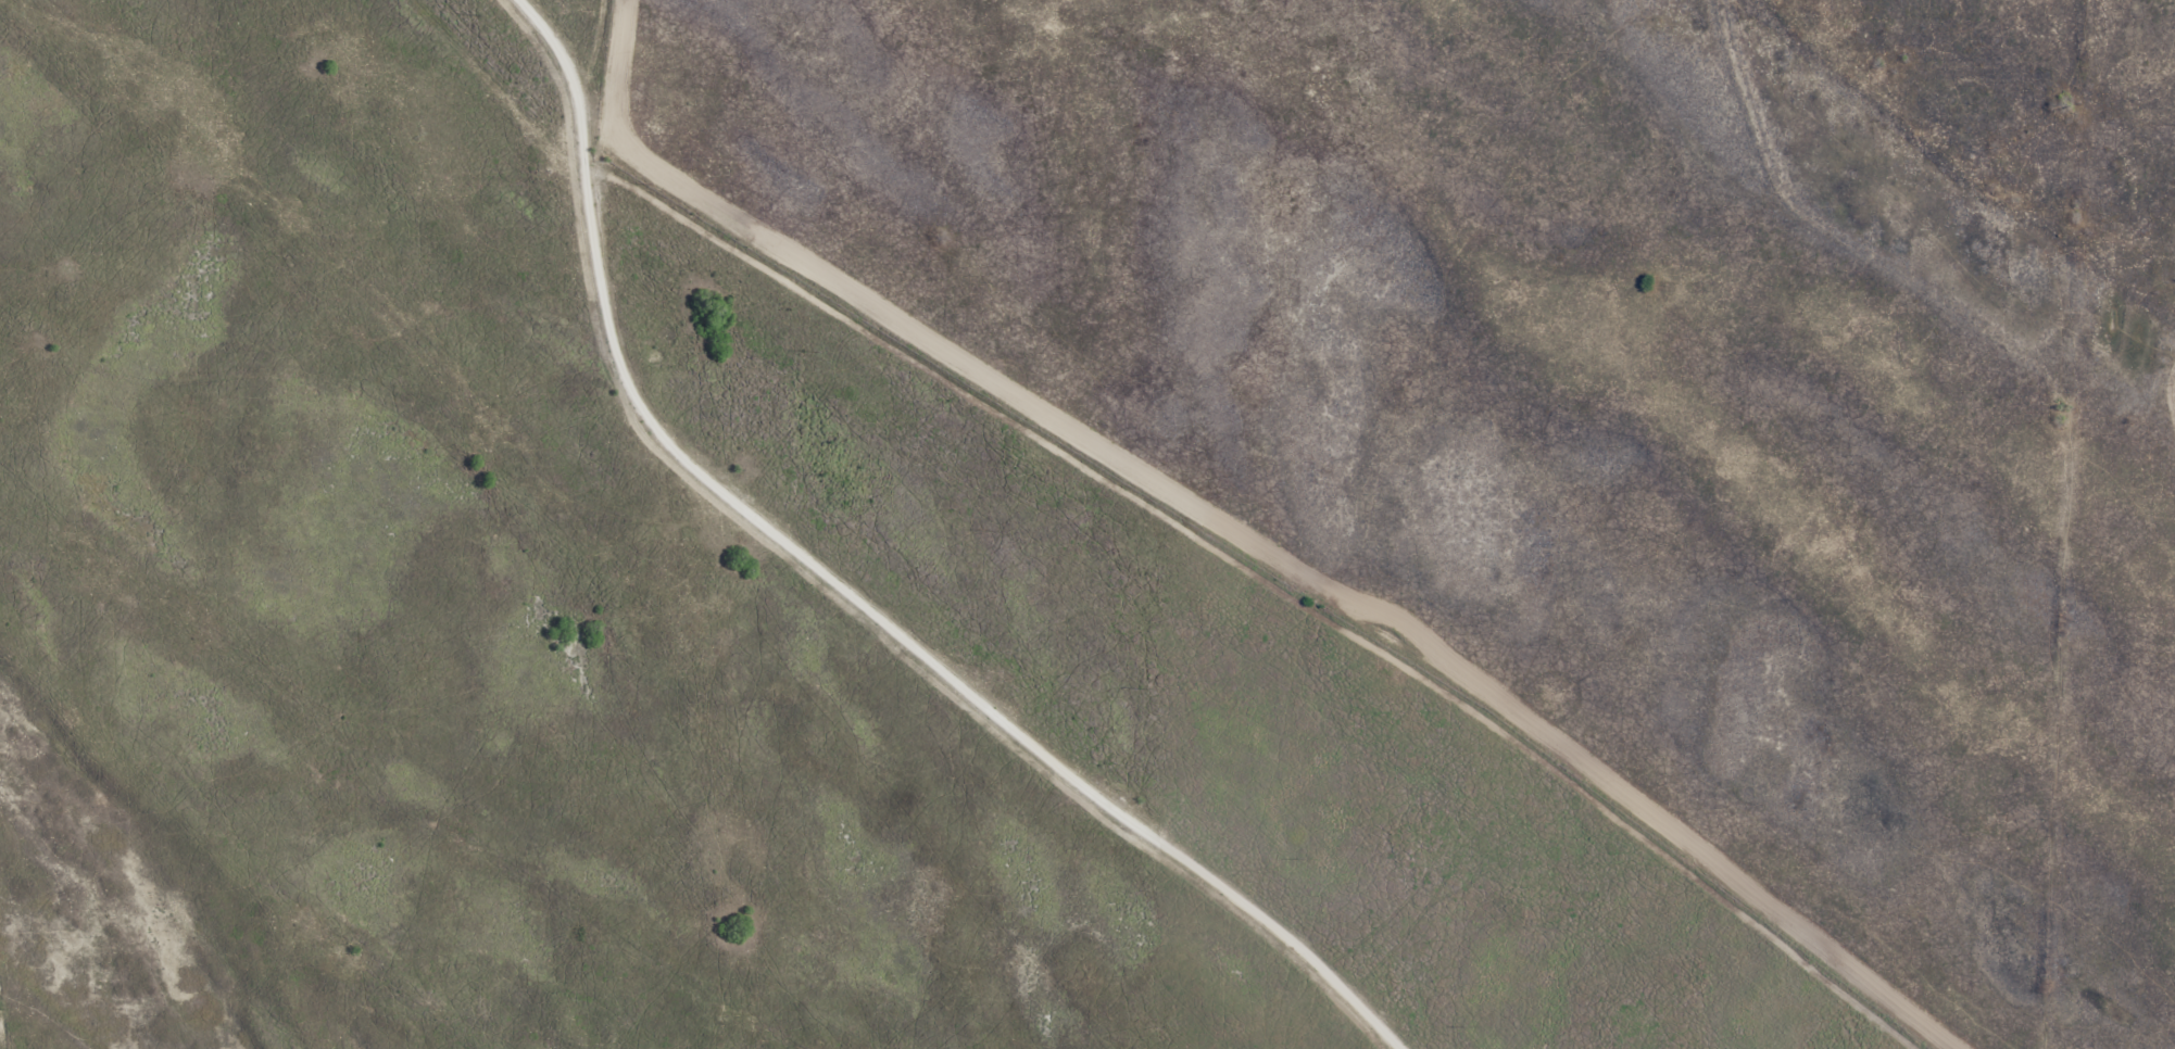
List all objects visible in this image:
road: (2071, 479)

